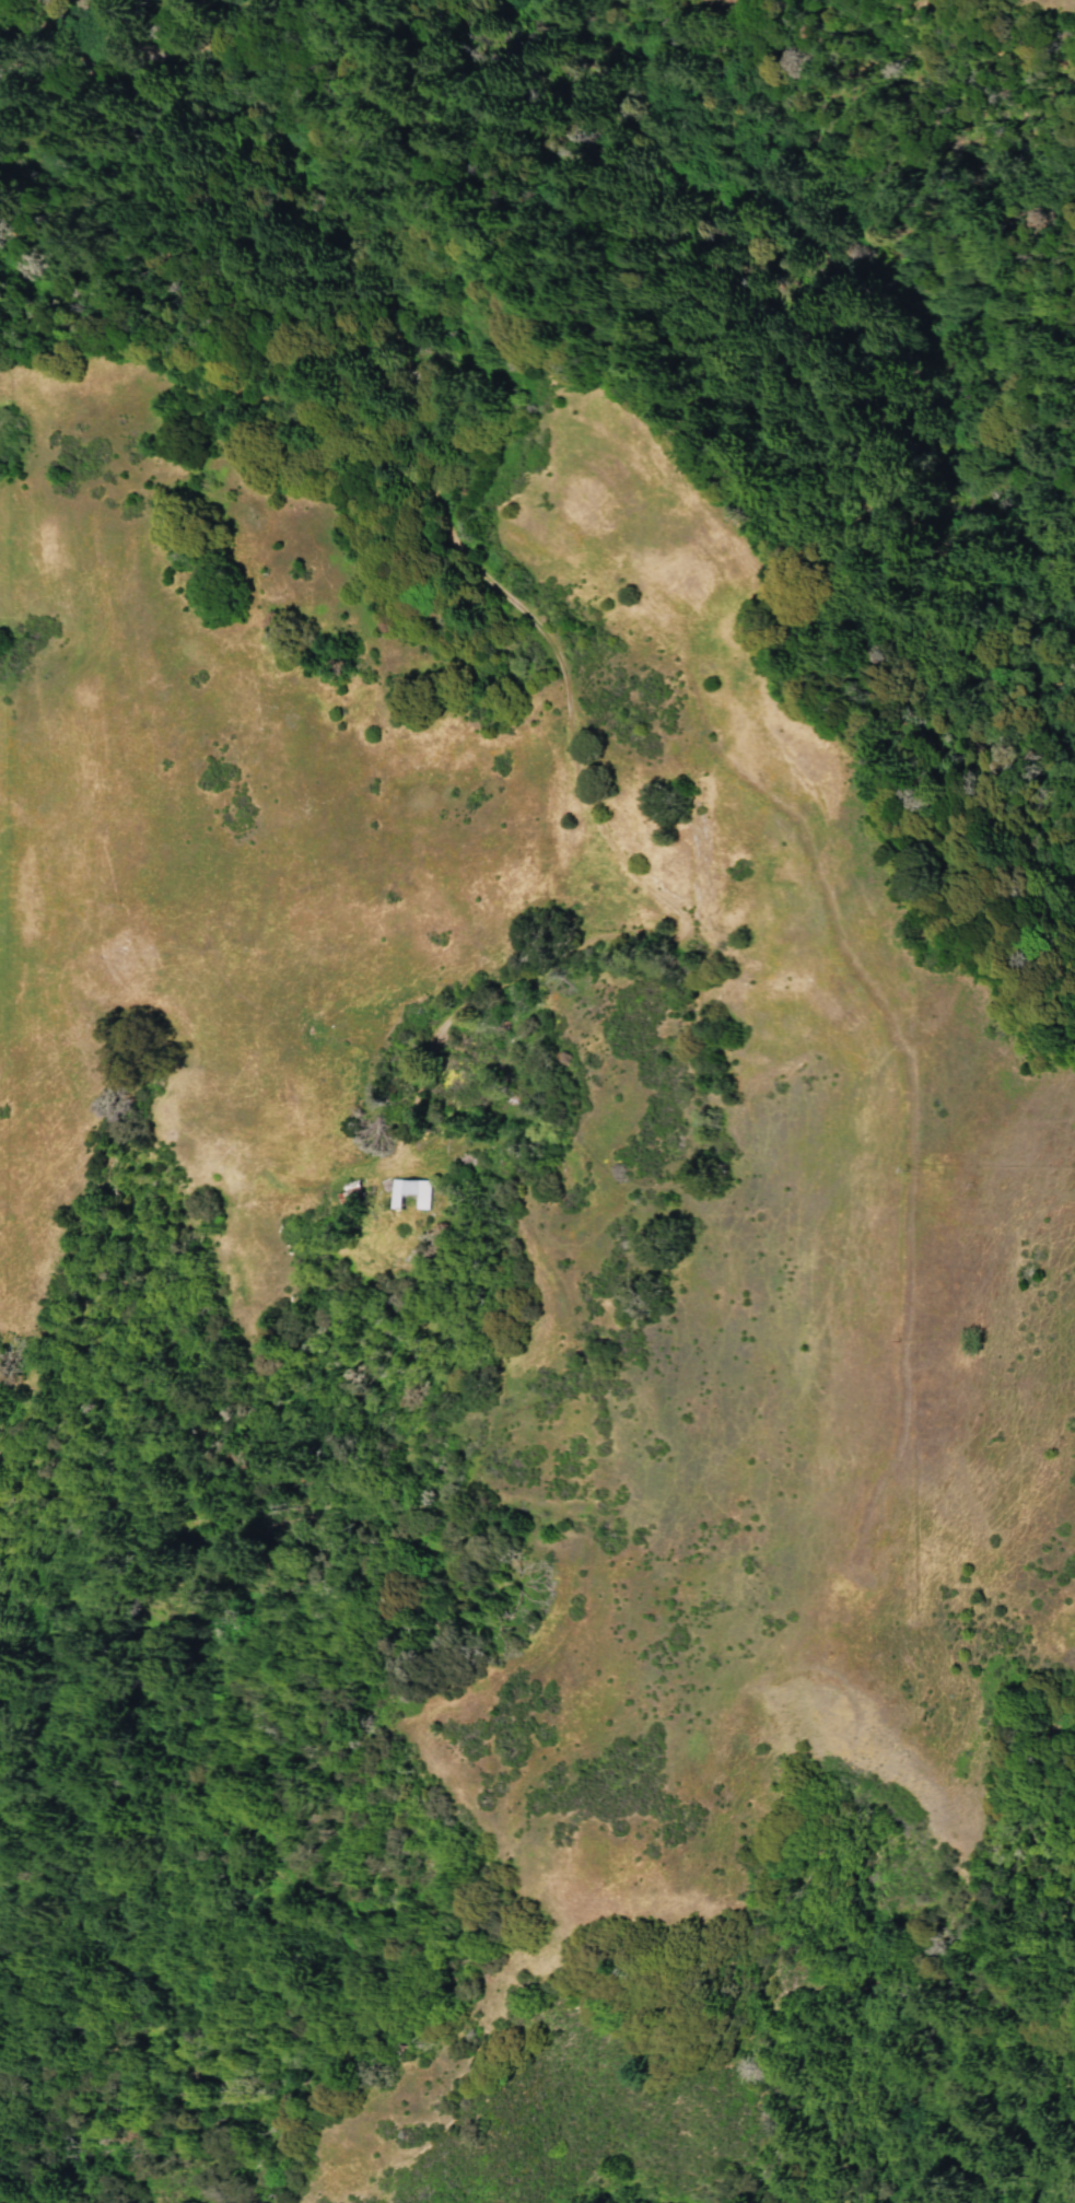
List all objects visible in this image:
road: (152, 34)
road: (340, 128)
road: (606, 836)
building: (459, 1158)
building: (342, 1190)
building: (404, 1194)

